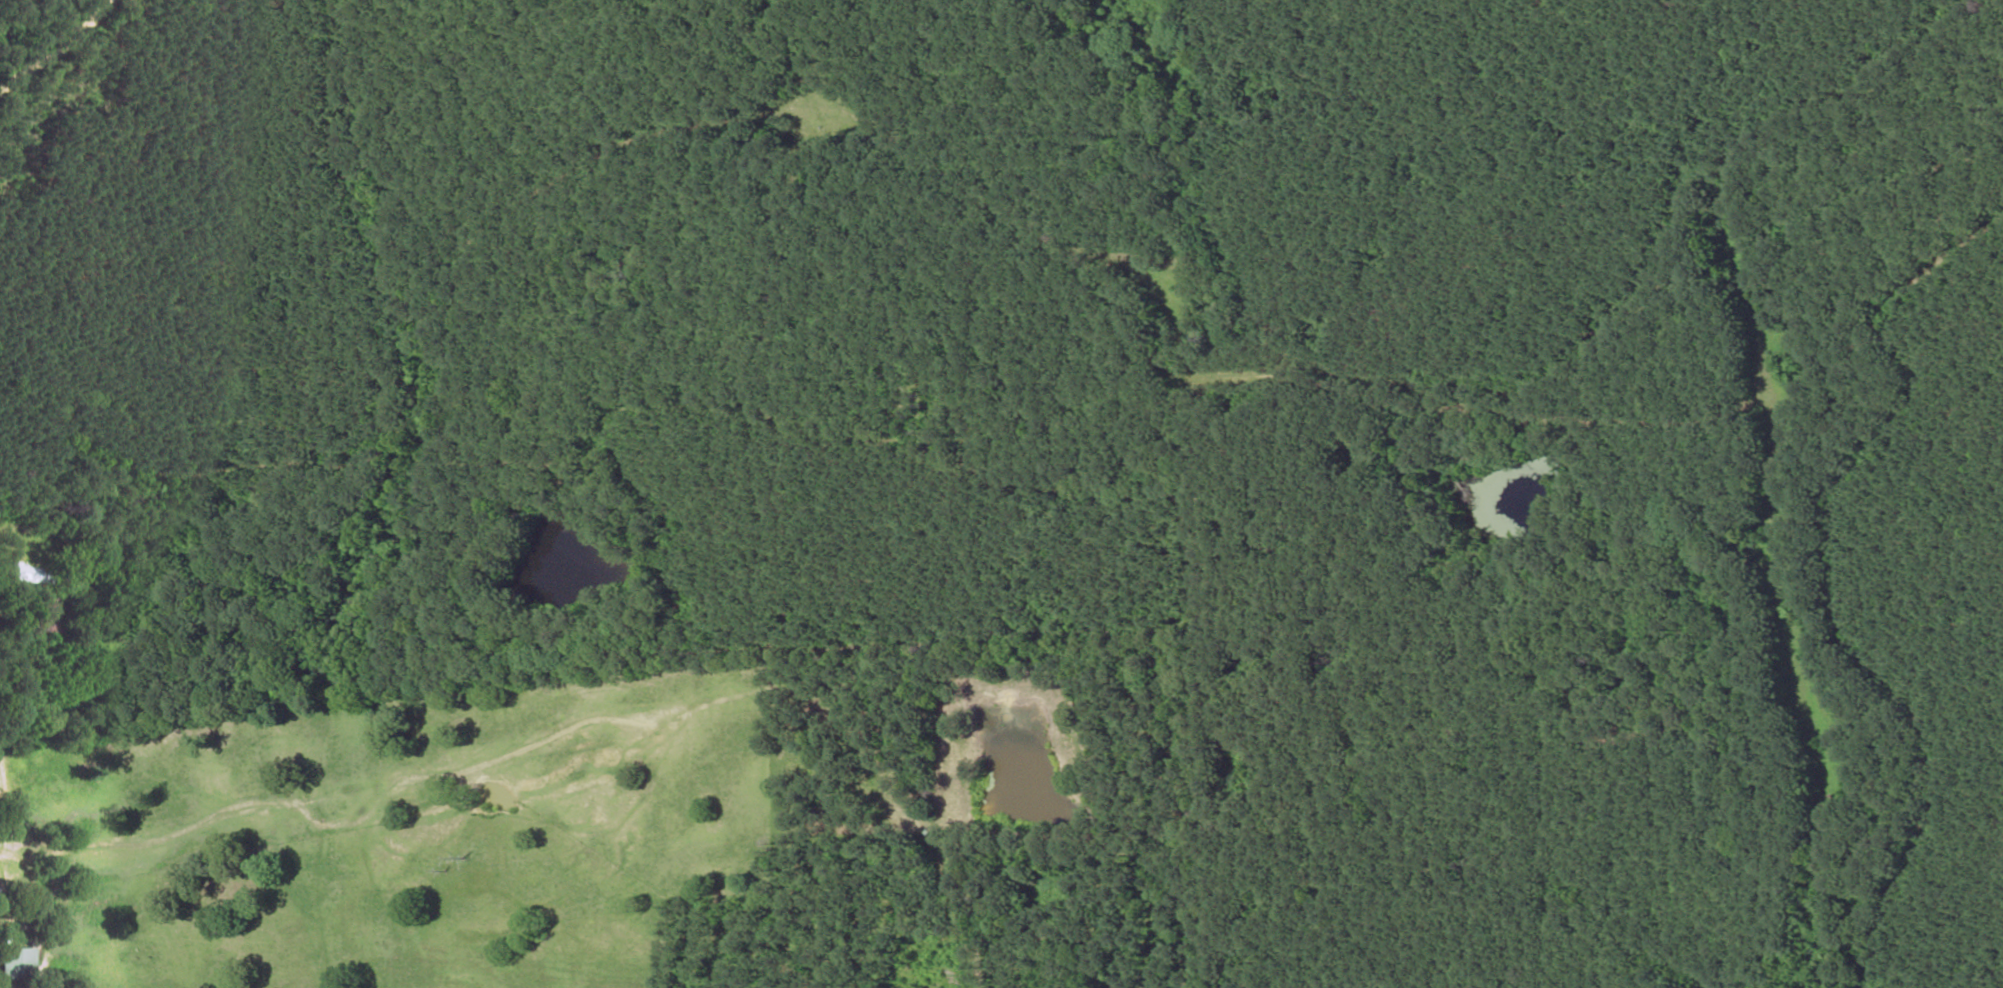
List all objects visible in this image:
road: (66, 56)
building: (12, 960)

